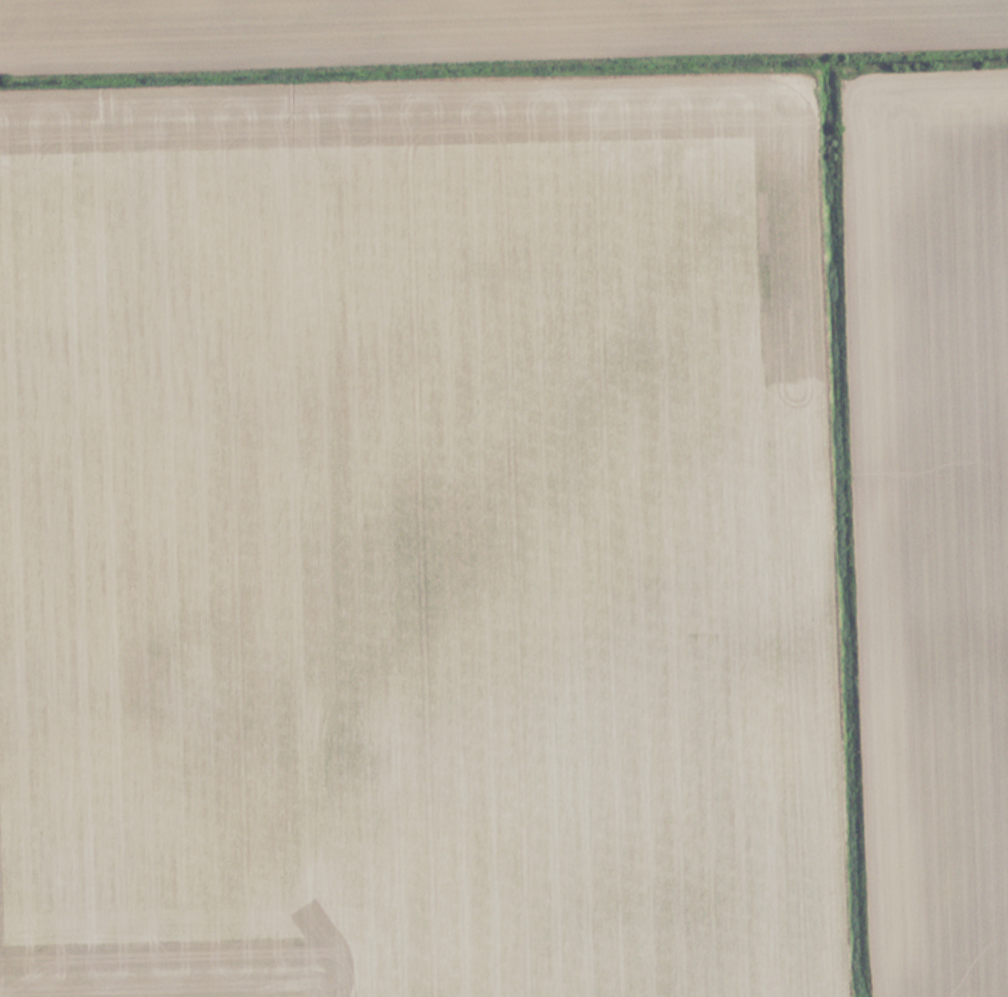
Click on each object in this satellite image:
road: (318, 880)

